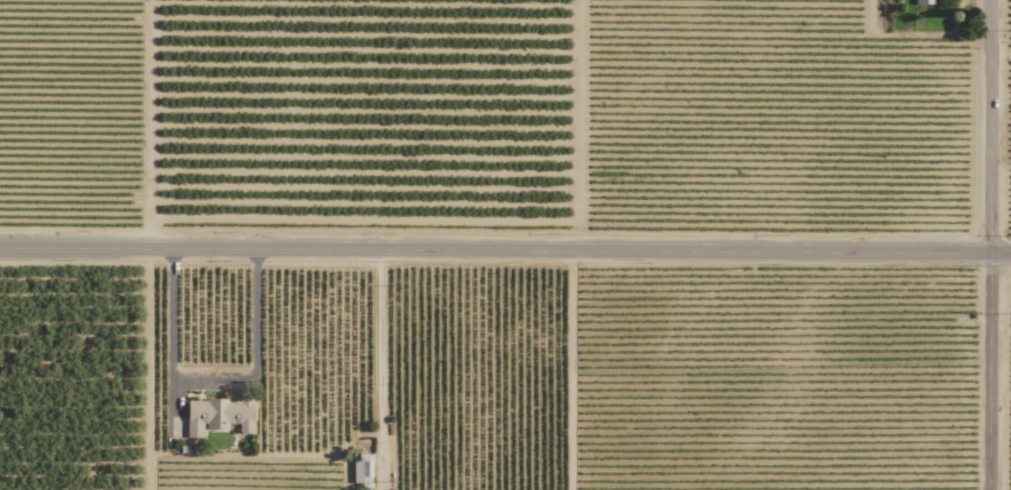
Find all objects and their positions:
building: (923, 2)
road: (988, 244)
road: (505, 248)
crop: (76, 361)
road: (147, 368)
road: (213, 384)
building: (217, 415)
building: (362, 470)

